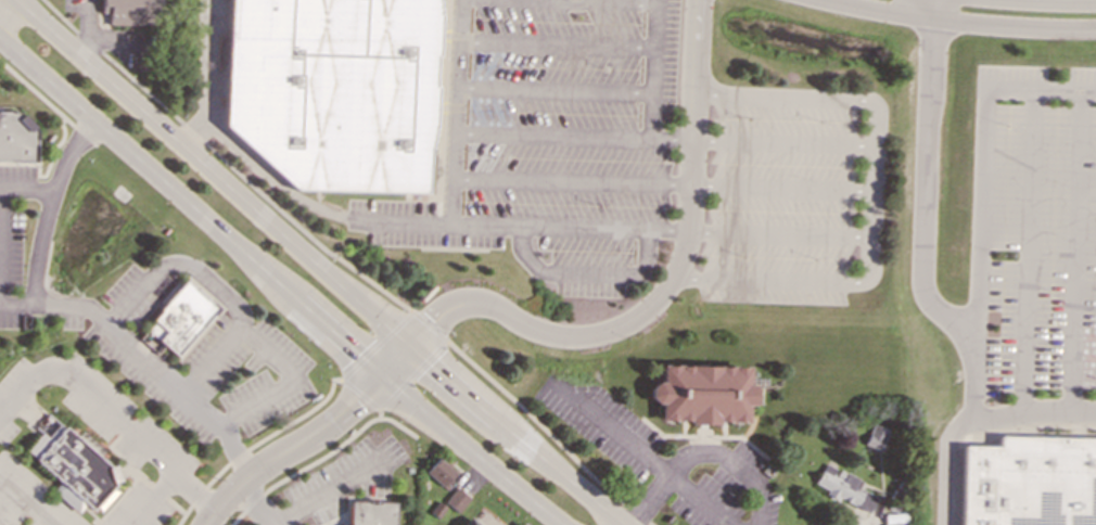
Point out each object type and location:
road: (526, 1)
road: (560, 1)
road: (594, 1)
road: (1048, 2)
building: (130, 12)
road: (954, 23)
road: (653, 40)
road: (556, 44)
road: (204, 59)
road: (553, 89)
building: (333, 90)
road: (783, 97)
road: (573, 135)
building: (16, 138)
road: (782, 141)
parking lot: (643, 159)
road: (224, 161)
road: (926, 178)
road: (572, 179)
road: (781, 185)
road: (26, 189)
road: (872, 191)
road: (981, 197)
road: (44, 222)
road: (407, 222)
road: (570, 228)
parking lot: (1034, 232)
road: (780, 234)
parking lot: (13, 242)
road: (1028, 251)
road: (1076, 251)
road: (317, 265)
road: (589, 276)
road: (772, 279)
road: (278, 283)
road: (666, 289)
building: (180, 317)
road: (241, 317)
road: (428, 324)
road: (375, 345)
traffic signals: (412, 345)
parking lot: (199, 355)
road: (154, 368)
road: (410, 373)
traffic signals: (378, 376)
building: (701, 393)
road: (358, 394)
road: (112, 413)
road: (977, 420)
road: (397, 424)
road: (1030, 427)
road: (547, 433)
building: (874, 436)
road: (310, 437)
road: (254, 444)
road: (701, 451)
road: (642, 456)
road: (306, 465)
building: (72, 468)
building: (438, 472)
parking lot: (345, 478)
building: (1032, 482)
building: (842, 487)
road: (328, 490)
road: (151, 498)
building: (455, 499)
road: (258, 503)
building: (372, 513)
building: (471, 523)
road: (856, 523)

